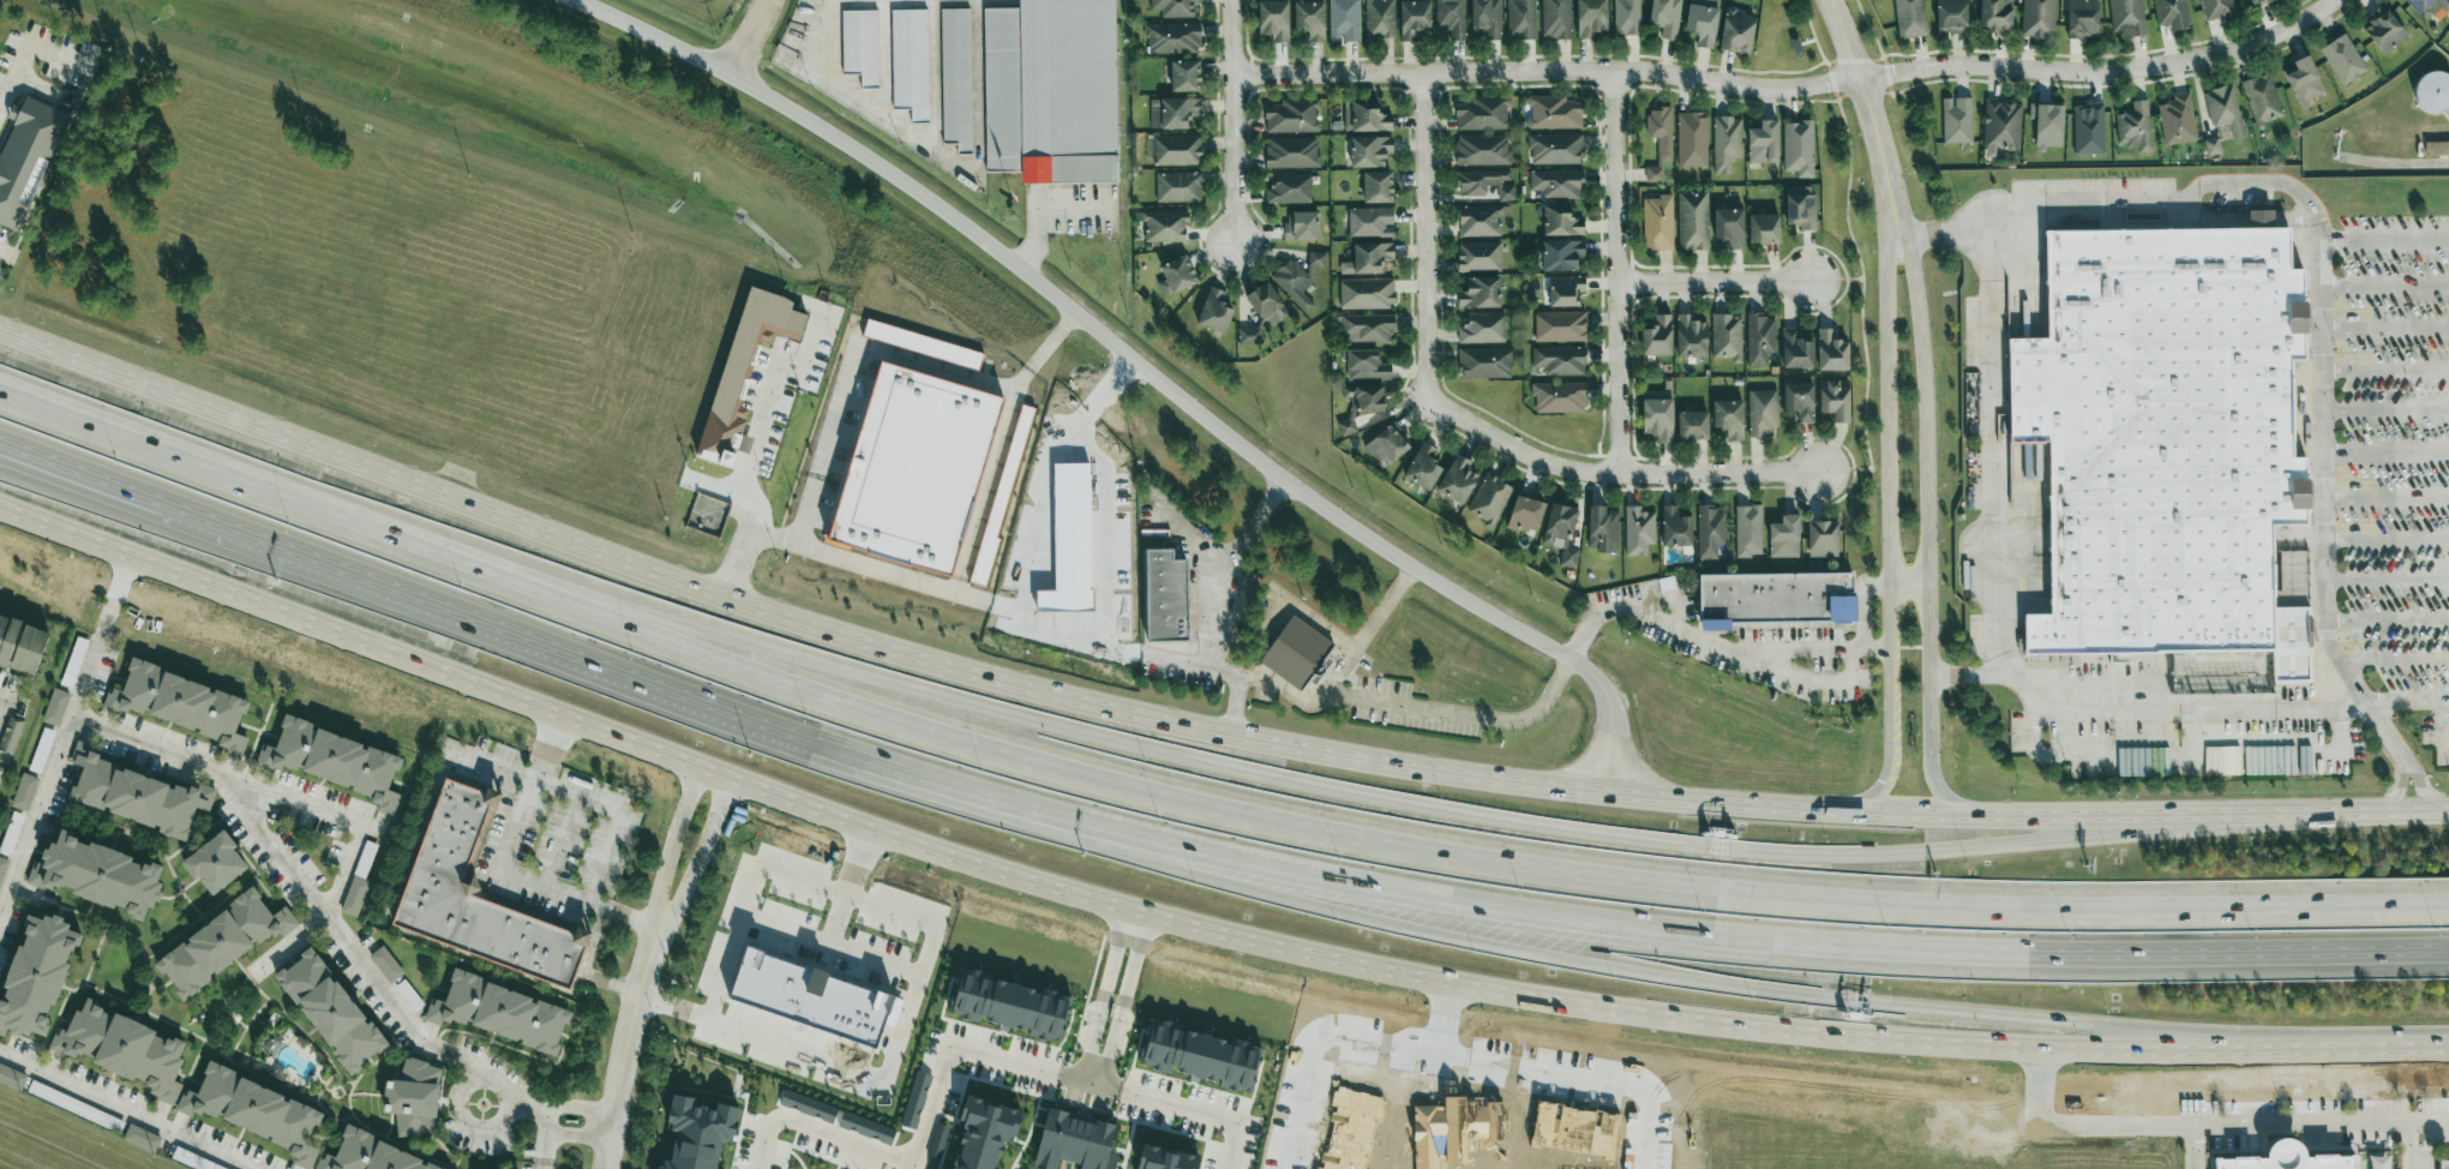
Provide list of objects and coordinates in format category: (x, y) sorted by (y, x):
building: (2256, 1)
building: (1174, 7)
building: (2430, 7)
building: (2216, 10)
building: (2171, 13)
building: (1951, 16)
building: (1995, 16)
building: (2126, 16)
building: (1626, 17)
building: (1665, 17)
building: (1379, 18)
building: (1451, 18)
building: (1485, 18)
building: (1590, 18)
building: (1910, 18)
building: (2037, 18)
building: (2082, 18)
building: (1309, 19)
building: (1413, 19)
building: (1521, 19)
building: (1555, 19)
building: (1273, 20)
building: (1344, 20)
building: (1701, 24)
building: (2384, 30)
building: (1737, 32)
road: (743, 37)
building: (1172, 38)
building: (860, 46)
road: (25, 55)
building: (2343, 60)
building: (910, 62)
building: (955, 73)
building: (1184, 77)
building: (2305, 82)
road: (1791, 89)
building: (1049, 90)
building: (2432, 94)
road: (848, 95)
building: (2262, 98)
building: (2223, 109)
building: (1172, 113)
building: (1553, 113)
building: (1482, 114)
building: (1291, 116)
building: (1364, 116)
road: (1868, 119)
building: (1956, 120)
building: (2177, 120)
road: (1230, 121)
building: (2047, 125)
building: (2001, 127)
building: (2133, 127)
building: (2088, 130)
building: (1659, 139)
building: (1691, 139)
building: (1725, 143)
building: (1764, 143)
building: (2214, 144)
building: (1555, 149)
building: (1797, 149)
building: (2436, 149)
building: (1176, 150)
building: (1482, 150)
building: (1369, 151)
building: (1291, 152)
building: (25, 158)
road: (2394, 163)
building: (1556, 184)
building: (1177, 187)
building: (1376, 187)
building: (1289, 188)
building: (1800, 206)
building: (1479, 221)
building: (1692, 221)
building: (1370, 222)
building: (1560, 222)
building: (1657, 222)
building: (1163, 226)
building: (1729, 226)
building: (1301, 227)
building: (1764, 227)
road: (1943, 230)
road: (1424, 238)
road: (2385, 240)
road: (1, 251)
building: (1561, 254)
building: (1478, 256)
building: (1368, 258)
road: (1615, 272)
building: (1175, 277)
building: (1296, 281)
road: (1712, 282)
road: (2385, 284)
building: (1565, 289)
building: (1479, 292)
building: (1365, 293)
building: (1267, 304)
building: (1214, 311)
road: (2322, 325)
building: (1560, 326)
building: (1367, 328)
building: (1482, 328)
road: (2385, 330)
building: (1249, 335)
building: (1657, 335)
building: (1689, 336)
building: (1727, 336)
building: (1760, 337)
building: (922, 343)
building: (1796, 348)
building: (1831, 350)
road: (1045, 355)
building: (1559, 360)
building: (1484, 362)
road: (1136, 364)
building: (1365, 365)
building: (744, 366)
road: (2385, 368)
road: (936, 374)
building: (1364, 397)
building: (1559, 397)
building: (1835, 398)
building: (1800, 400)
road: (2387, 410)
building: (1761, 413)
building: (1729, 416)
road: (73, 418)
building: (1658, 418)
building: (1692, 424)
road: (73, 426)
building: (1020, 426)
building: (1345, 426)
building: (1388, 443)
building: (2163, 443)
road: (752, 445)
road: (2387, 455)
building: (912, 466)
building: (1423, 466)
road: (67, 469)
road: (1613, 472)
road: (67, 475)
building: (1457, 479)
road: (2387, 496)
building: (1489, 499)
building: (1525, 512)
building: (1675, 527)
building: (1602, 528)
building: (1748, 529)
building: (1638, 530)
building: (1710, 530)
road: (1886, 530)
road: (1926, 532)
building: (1561, 533)
building: (1784, 536)
building: (1823, 538)
road: (2385, 539)
road: (845, 566)
road: (457, 569)
road: (1216, 576)
road: (121, 578)
road: (2385, 578)
road: (1907, 583)
building: (1164, 595)
building: (1773, 599)
road: (1862, 604)
road: (786, 617)
road: (2385, 618)
road: (108, 621)
road: (498, 630)
road: (1713, 641)
building: (22, 643)
road: (1988, 643)
road: (1908, 648)
building: (1295, 651)
building: (73, 661)
road: (2394, 661)
road: (1340, 670)
road: (89, 677)
road: (1968, 679)
road: (2, 699)
road: (2425, 701)
building: (181, 703)
road: (1231, 706)
building: (55, 707)
road: (1463, 717)
building: (10, 739)
building: (335, 760)
road: (494, 765)
road: (221, 773)
road: (2423, 789)
road: (2395, 791)
building: (24, 792)
building: (138, 795)
road: (2433, 808)
road: (2009, 810)
road: (623, 813)
road: (335, 814)
building: (11, 833)
road: (1587, 835)
road: (670, 844)
toll booth: (1712, 849)
road: (698, 855)
building: (215, 863)
road: (500, 868)
road: (1598, 871)
building: (97, 875)
building: (478, 895)
road: (749, 901)
road: (1193, 922)
road: (1647, 925)
road: (294, 941)
road: (808, 941)
building: (220, 943)
road: (872, 963)
building: (386, 964)
road: (1593, 965)
road: (584, 969)
building: (37, 975)
building: (811, 999)
building: (1008, 1003)
building: (331, 1012)
building: (499, 1013)
road: (1449, 1020)
road: (625, 1048)
road: (896, 1048)
building: (122, 1049)
road: (1322, 1050)
building: (1199, 1055)
building: (12, 1078)
road: (1073, 1080)
road: (1577, 1081)
road: (1088, 1083)
road: (1104, 1087)
building: (414, 1098)
building: (916, 1101)
building: (808, 1105)
road: (522, 1107)
road: (128, 1110)
building: (254, 1111)
road: (1198, 1114)
road: (467, 1125)
road: (2207, 1125)
building: (866, 1128)
building: (984, 1132)
building: (698, 1133)
building: (142, 1139)
building: (1074, 1143)
road: (542, 1144)
road: (917, 1144)
road: (2409, 1146)
road: (2195, 1147)
building: (370, 1155)
building: (1165, 1158)
building: (2286, 1158)
building: (2378, 1162)
building: (2444, 1164)
road: (540, 1165)
road: (907, 1165)
building: (947, 1168)

